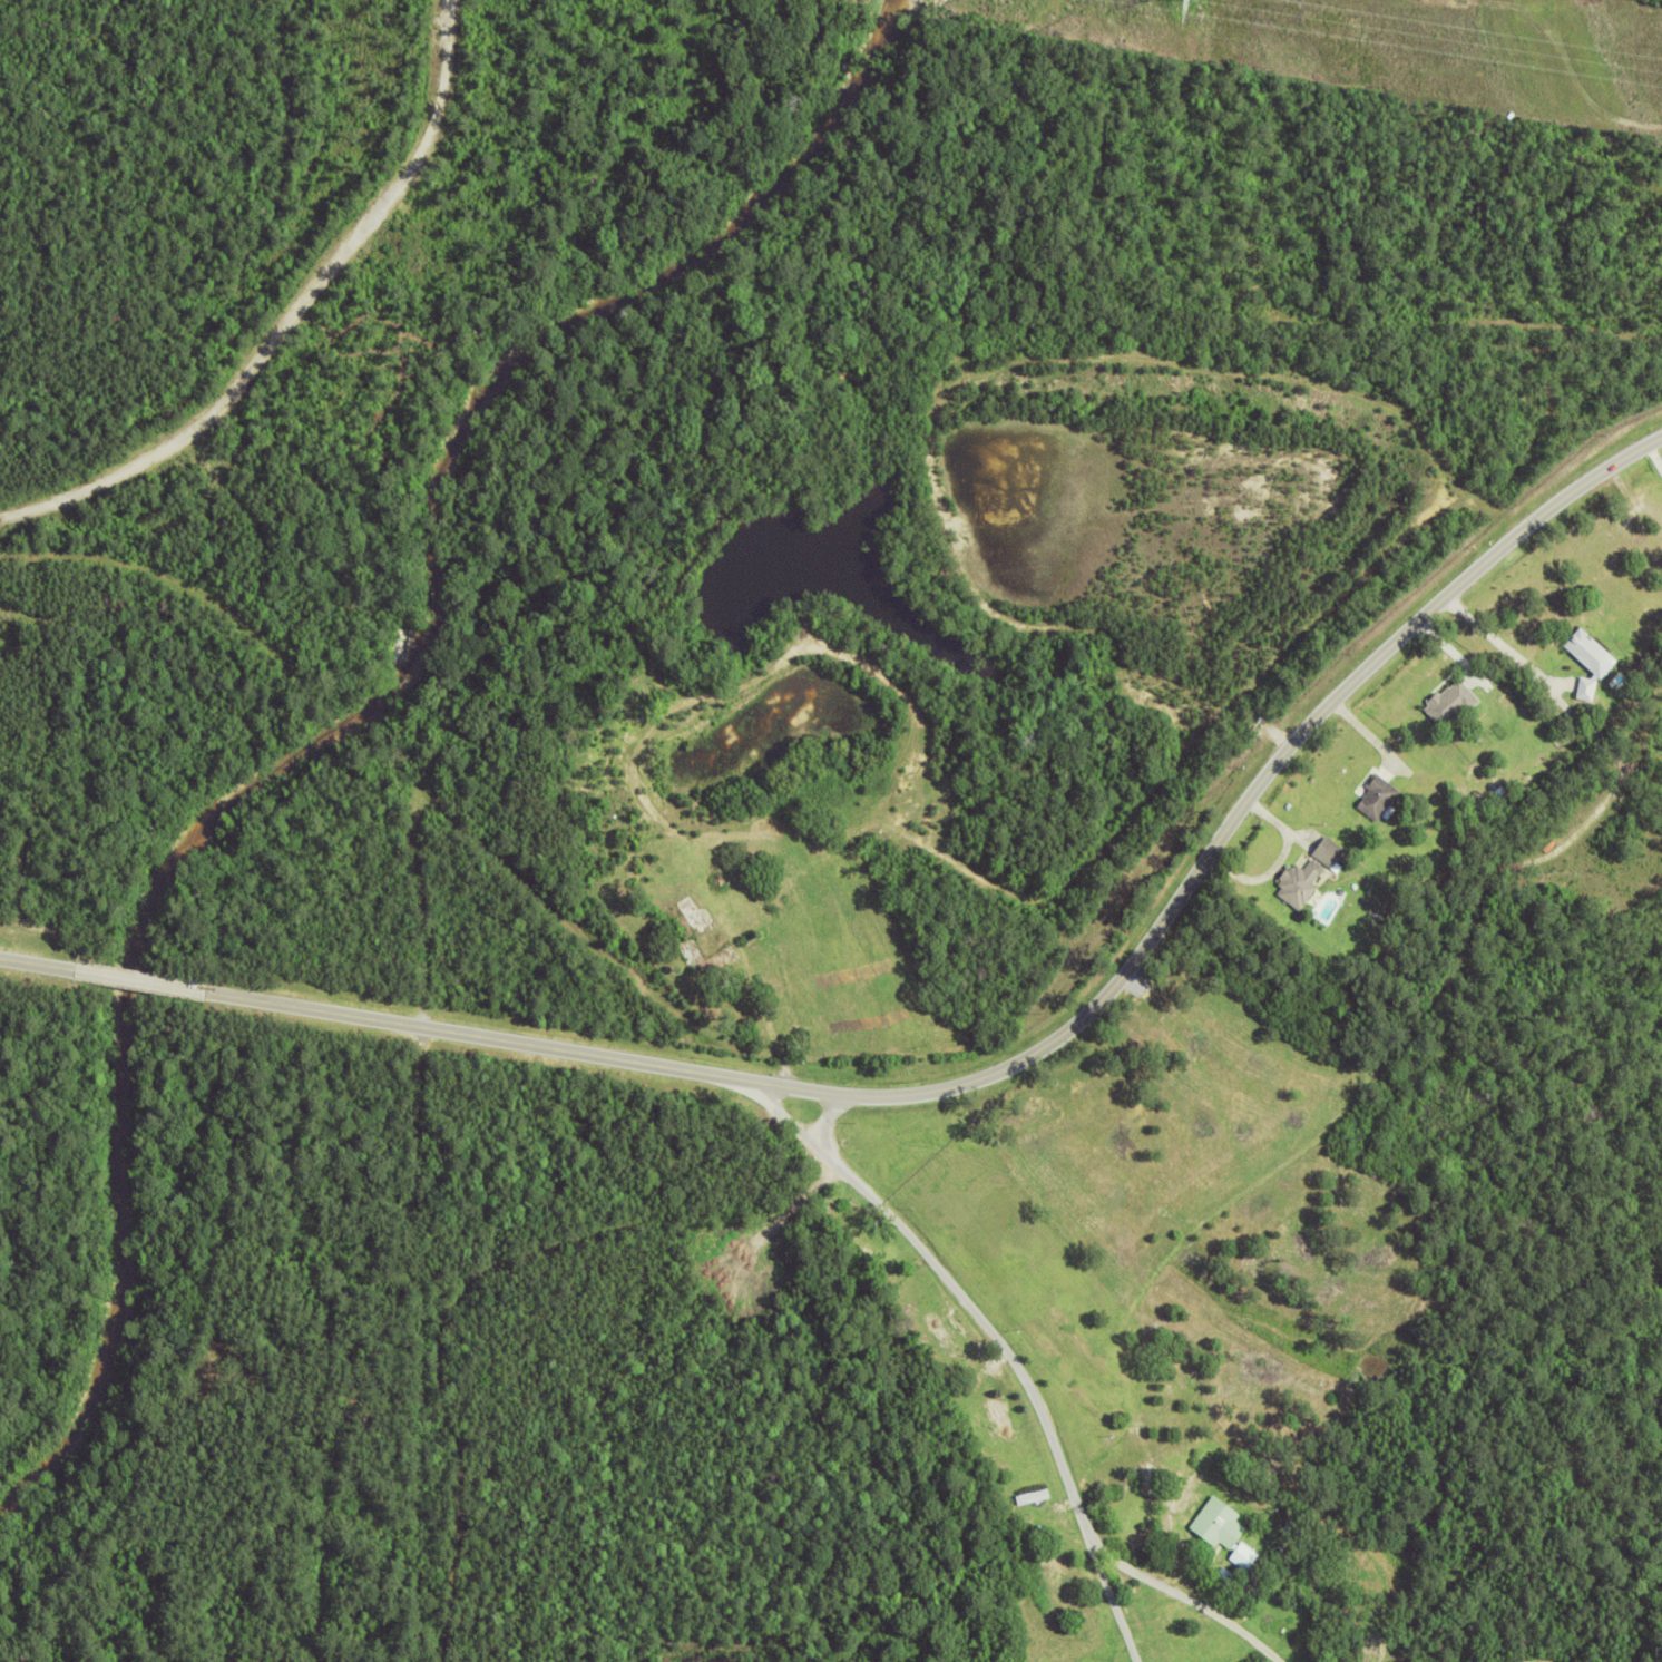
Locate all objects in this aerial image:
power tower: (1185, 1)
road: (290, 314)
building: (1594, 653)
building: (1590, 688)
river: (352, 697)
building: (1453, 700)
building: (1379, 794)
building: (1332, 852)
road: (1195, 873)
building: (1301, 881)
road: (36, 965)
road: (139, 982)
road: (426, 1027)
road: (833, 1118)
road: (472, 1279)
building: (906, 1288)
road: (961, 1294)
building: (946, 1336)
building: (997, 1411)
building: (1043, 1498)
building: (1220, 1522)
building: (1048, 1524)
building: (1291, 1526)
building: (1245, 1555)
building: (1278, 1555)
building: (1055, 1567)
building: (1228, 1574)
road: (1131, 1575)
building: (1349, 1607)

